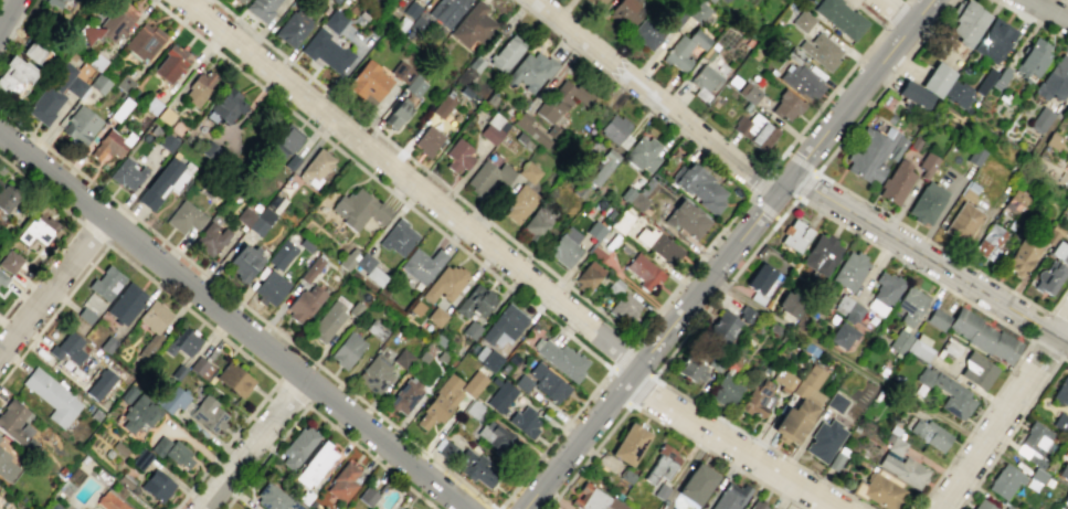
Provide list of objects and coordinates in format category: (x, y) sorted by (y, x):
building: (725, 0)
building: (241, 1)
building: (334, 1)
building: (600, 1)
road: (1064, 1)
building: (56, 3)
road: (198, 3)
building: (262, 9)
road: (1048, 10)
building: (446, 11)
building: (626, 11)
road: (897, 11)
road: (897, 12)
road: (8, 13)
road: (867, 13)
building: (696, 15)
building: (840, 17)
building: (413, 18)
road: (1030, 19)
building: (802, 20)
building: (334, 21)
building: (965, 22)
building: (109, 23)
building: (473, 25)
building: (292, 28)
building: (647, 33)
building: (994, 40)
building: (142, 42)
building: (684, 49)
building: (819, 50)
building: (32, 51)
building: (326, 51)
building: (506, 53)
building: (1032, 60)
building: (171, 64)
building: (400, 71)
building: (530, 71)
building: (14, 75)
building: (935, 79)
building: (1055, 79)
building: (801, 81)
building: (704, 82)
building: (99, 83)
building: (368, 83)
building: (413, 85)
building: (200, 87)
building: (748, 92)
building: (56, 93)
building: (913, 94)
building: (958, 94)
road: (826, 96)
road: (655, 99)
building: (560, 100)
building: (441, 106)
building: (785, 106)
building: (225, 107)
building: (395, 114)
building: (1040, 119)
building: (81, 125)
building: (493, 129)
building: (529, 129)
building: (615, 130)
building: (754, 130)
building: (426, 140)
building: (284, 142)
building: (109, 145)
road: (786, 152)
building: (643, 153)
building: (458, 155)
building: (975, 156)
road: (803, 162)
building: (315, 167)
building: (603, 167)
road: (423, 169)
building: (529, 172)
building: (127, 174)
building: (487, 177)
building: (896, 181)
road: (758, 183)
road: (806, 183)
building: (1065, 183)
building: (699, 187)
road: (40, 190)
road: (854, 194)
building: (6, 198)
building: (633, 198)
road: (794, 199)
building: (927, 202)
building: (519, 204)
road: (762, 206)
building: (358, 209)
building: (183, 216)
building: (686, 219)
building: (256, 220)
building: (538, 221)
building: (622, 221)
building: (962, 222)
building: (38, 230)
building: (594, 230)
building: (1067, 232)
road: (94, 233)
building: (795, 235)
building: (398, 237)
building: (211, 238)
road: (451, 240)
building: (988, 241)
building: (657, 244)
building: (564, 246)
building: (1059, 252)
road: (727, 253)
building: (281, 254)
building: (821, 254)
road: (928, 255)
building: (1021, 256)
building: (10, 261)
building: (244, 262)
building: (422, 264)
road: (509, 264)
road: (689, 267)
building: (368, 268)
building: (849, 271)
building: (643, 272)
building: (307, 273)
building: (588, 275)
building: (1048, 277)
building: (2, 278)
building: (105, 283)
building: (760, 283)
building: (444, 284)
road: (52, 285)
building: (269, 287)
building: (882, 293)
road: (15, 297)
building: (475, 301)
building: (125, 304)
building: (303, 304)
building: (790, 304)
building: (910, 305)
building: (624, 307)
road: (247, 308)
road: (53, 312)
road: (191, 312)
building: (852, 312)
building: (435, 316)
building: (937, 319)
road: (231, 320)
building: (327, 321)
building: (152, 324)
building: (504, 324)
building: (729, 324)
building: (842, 336)
building: (983, 336)
road: (1033, 337)
building: (182, 342)
building: (910, 343)
building: (67, 348)
building: (347, 350)
road: (622, 354)
building: (485, 357)
building: (402, 358)
building: (561, 359)
road: (846, 361)
building: (200, 367)
building: (691, 370)
building: (976, 370)
building: (374, 375)
building: (233, 379)
building: (547, 382)
building: (472, 383)
building: (99, 384)
building: (808, 384)
road: (642, 391)
building: (725, 391)
building: (1061, 392)
road: (290, 393)
building: (948, 393)
building: (404, 395)
building: (52, 396)
building: (500, 396)
building: (172, 399)
building: (758, 400)
building: (440, 401)
building: (835, 402)
building: (208, 414)
road: (1005, 414)
building: (138, 415)
building: (14, 421)
building: (525, 421)
building: (794, 421)
road: (660, 423)
road: (1012, 430)
building: (929, 434)
building: (0, 436)
building: (497, 438)
building: (824, 441)
road: (253, 444)
building: (630, 444)
building: (1033, 444)
road: (225, 445)
building: (297, 446)
building: (896, 446)
building: (171, 452)
road: (264, 457)
road: (370, 457)
building: (662, 464)
building: (315, 465)
building: (6, 466)
building: (476, 468)
building: (902, 469)
building: (1062, 473)
building: (626, 475)
building: (341, 481)
building: (1004, 481)
building: (696, 484)
building: (157, 486)
building: (879, 490)
building: (660, 491)
building: (366, 496)
building: (730, 497)
building: (274, 498)
building: (595, 499)
building: (109, 501)
building: (755, 505)
building: (983, 505)
building: (51, 506)
building: (1008, 507)

